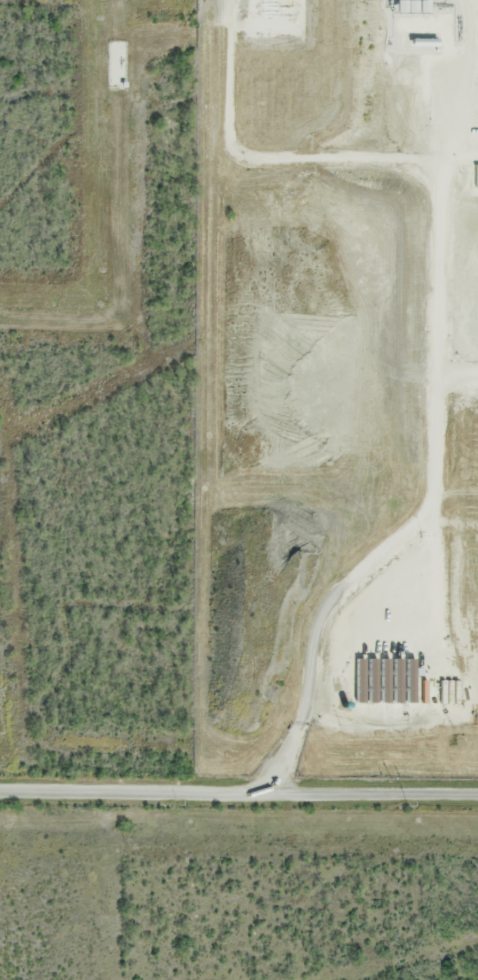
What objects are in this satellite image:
road: (239, 791)

